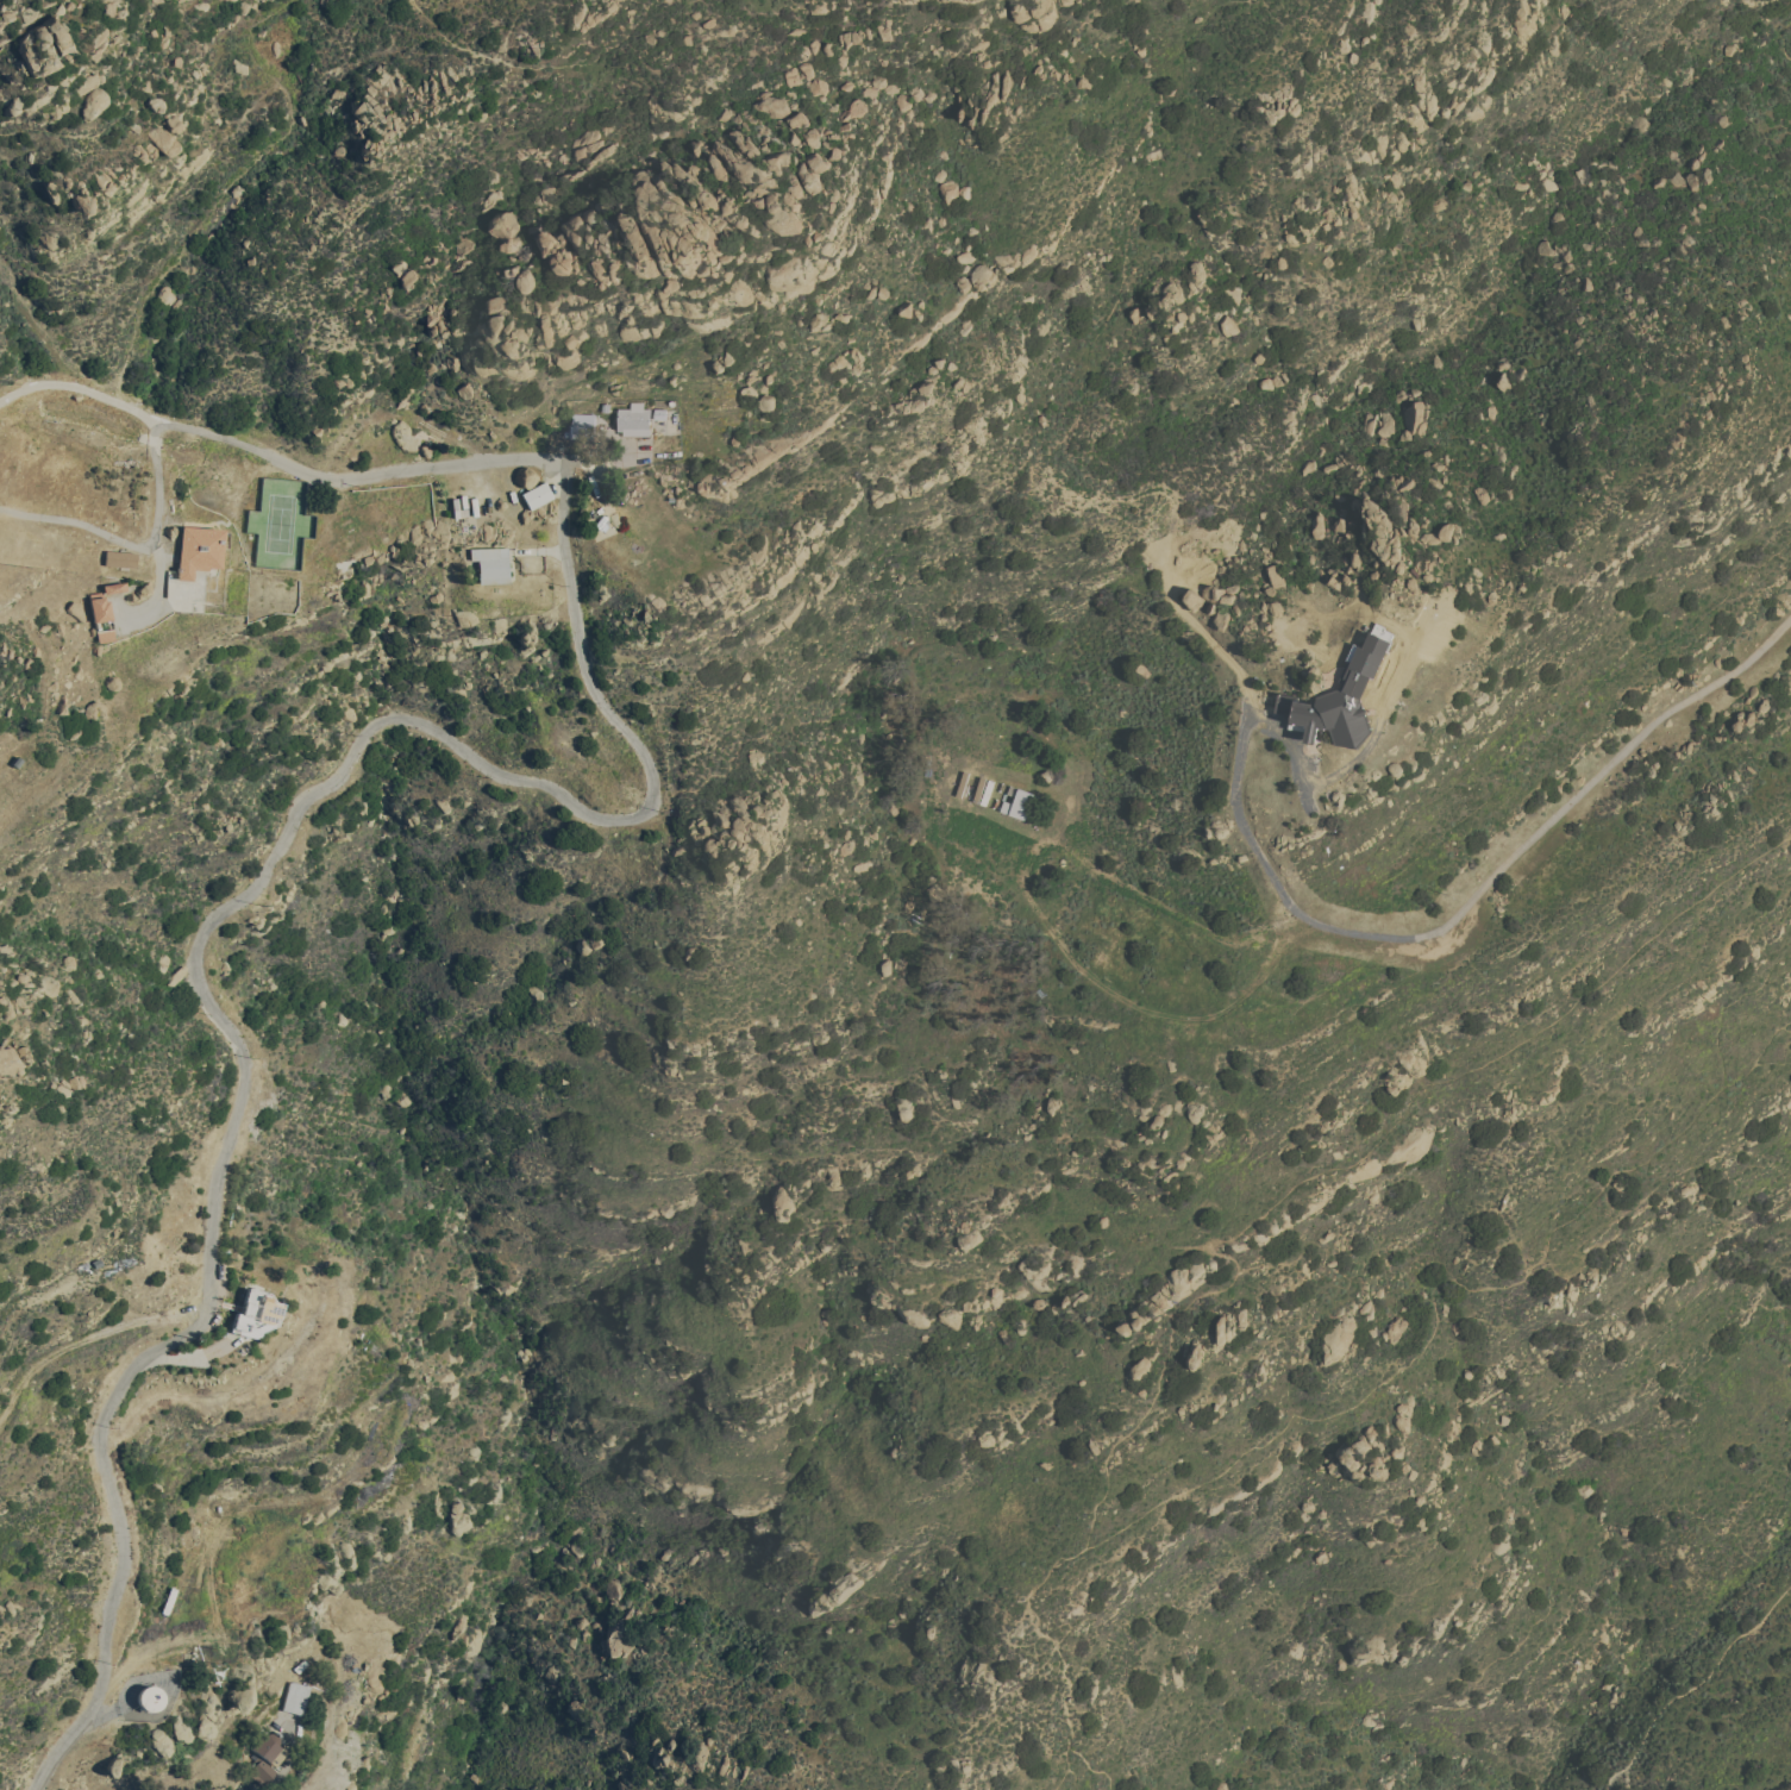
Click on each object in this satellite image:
road: (1779, 38)
building: (769, 105)
building: (497, 221)
building: (632, 420)
building: (580, 425)
building: (536, 494)
road: (134, 544)
building: (196, 549)
building: (119, 558)
building: (489, 563)
building: (113, 587)
building: (100, 617)
road: (1749, 659)
park: (1761, 666)
building: (1336, 703)
road: (389, 718)
road: (1367, 745)
building: (1016, 802)
park: (1680, 825)
road: (1376, 937)
building: (253, 1312)
road: (83, 1334)
park: (1711, 1435)
park: (1136, 1454)
building: (148, 1697)
building: (294, 1697)
park: (1698, 1717)
building: (263, 1758)

